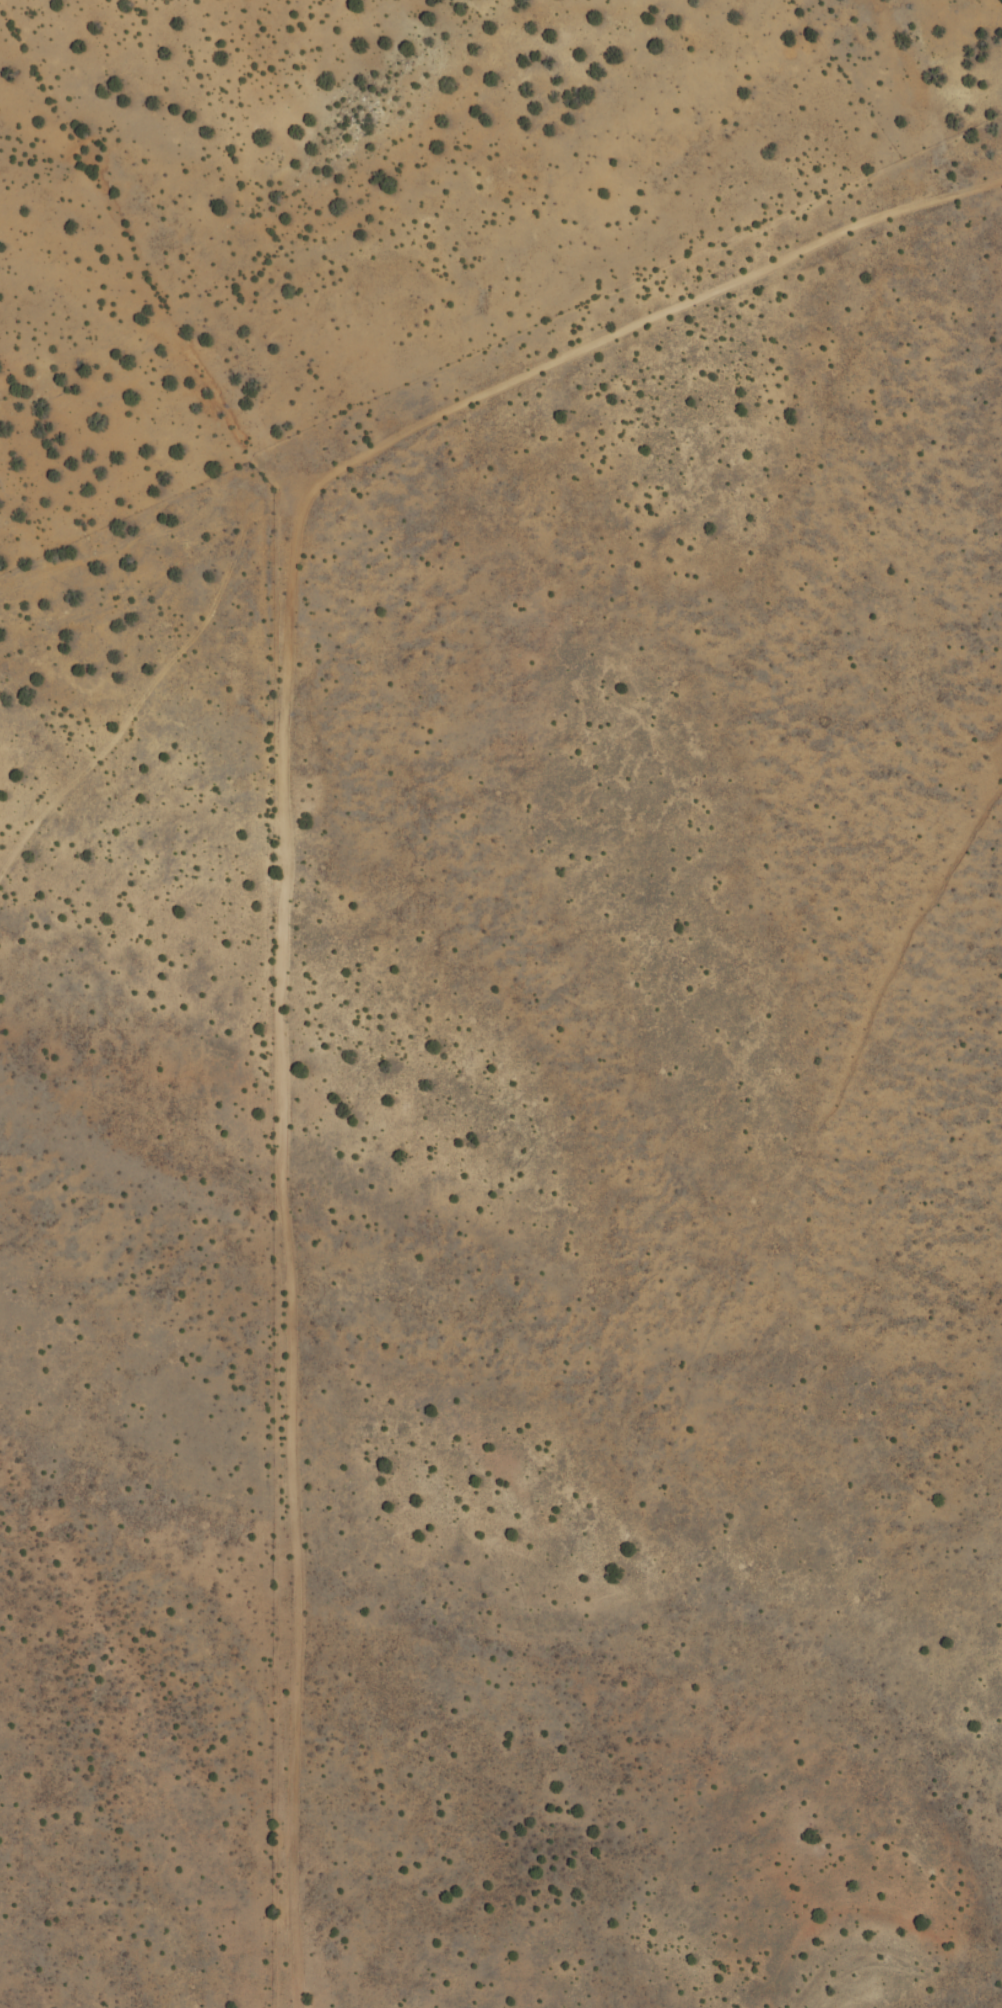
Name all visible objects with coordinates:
road: (497, 359)
road: (277, 1245)

